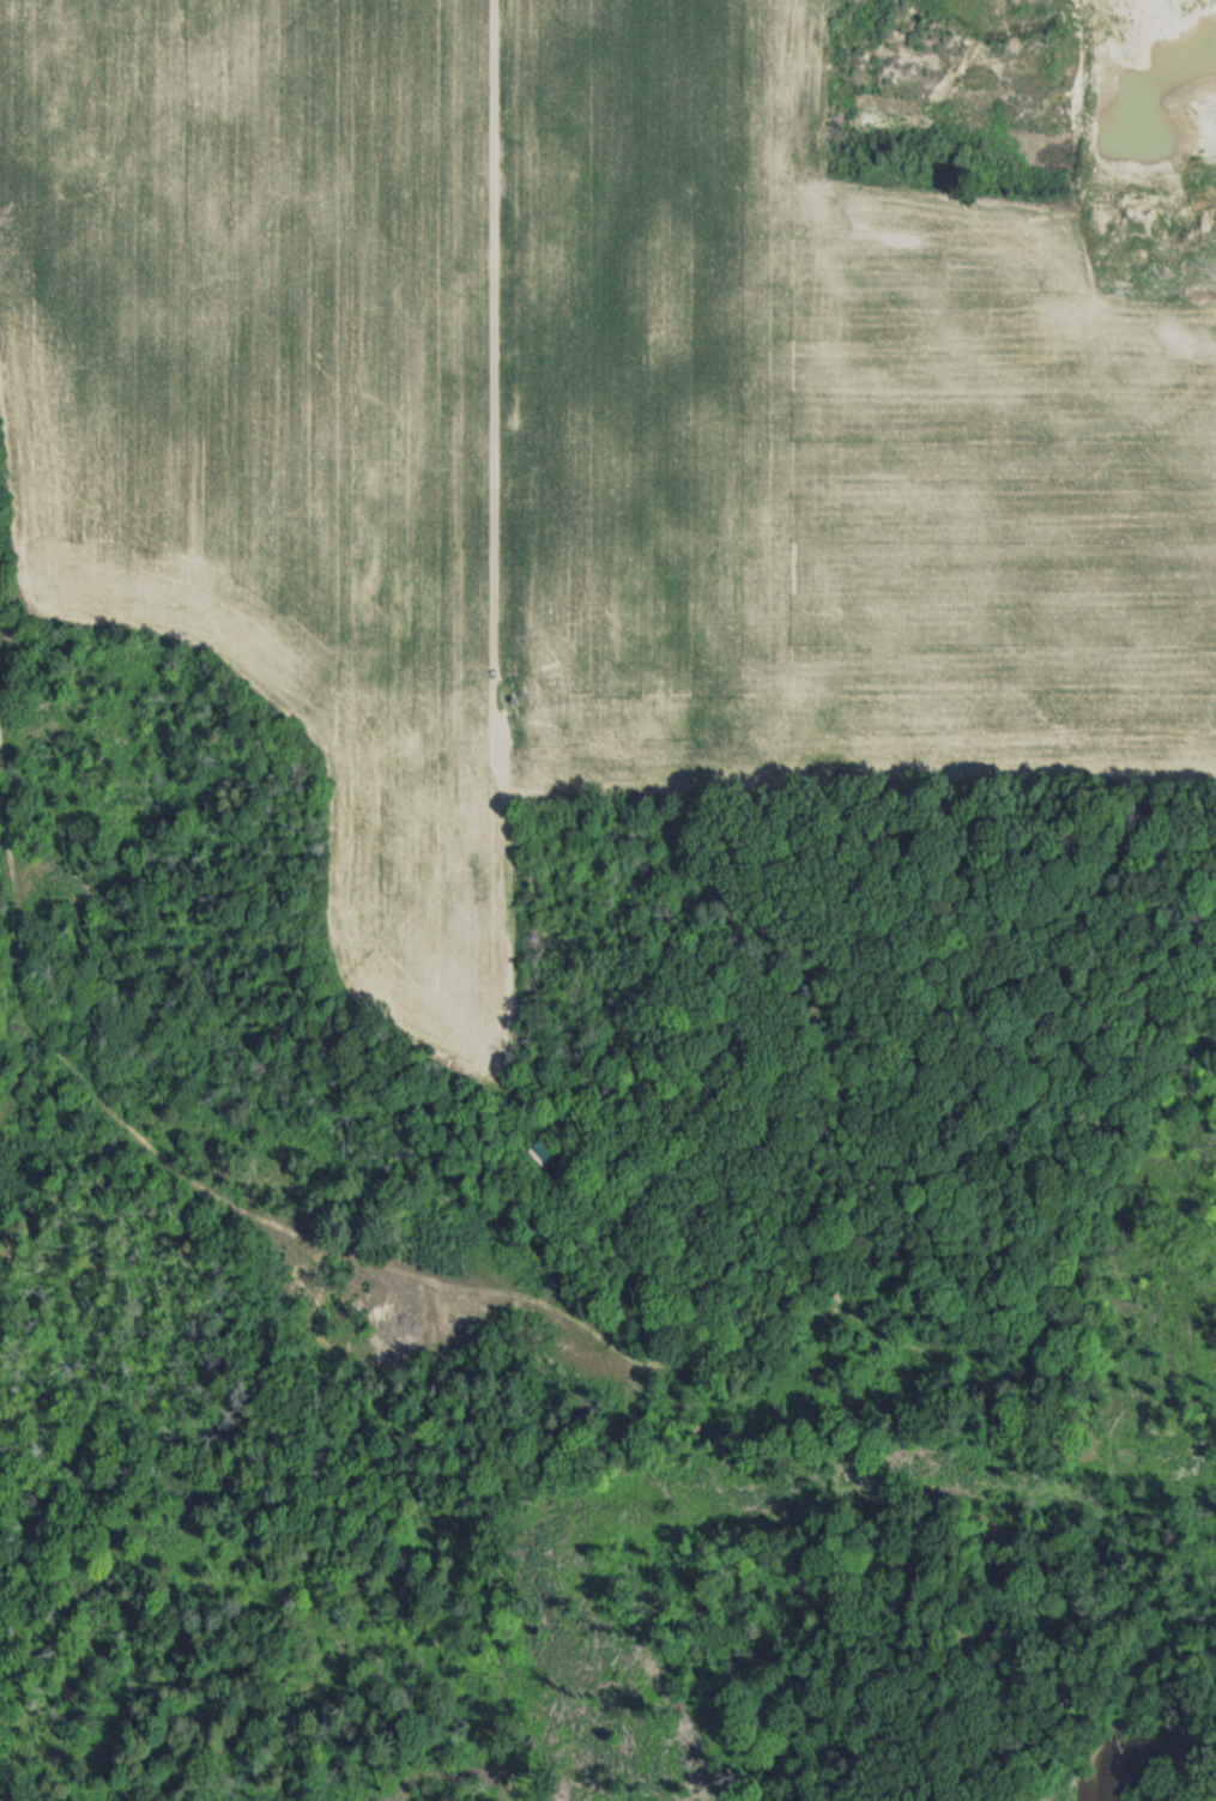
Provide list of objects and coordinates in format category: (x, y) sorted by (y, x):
crop: (288, 431)
crop: (830, 446)

